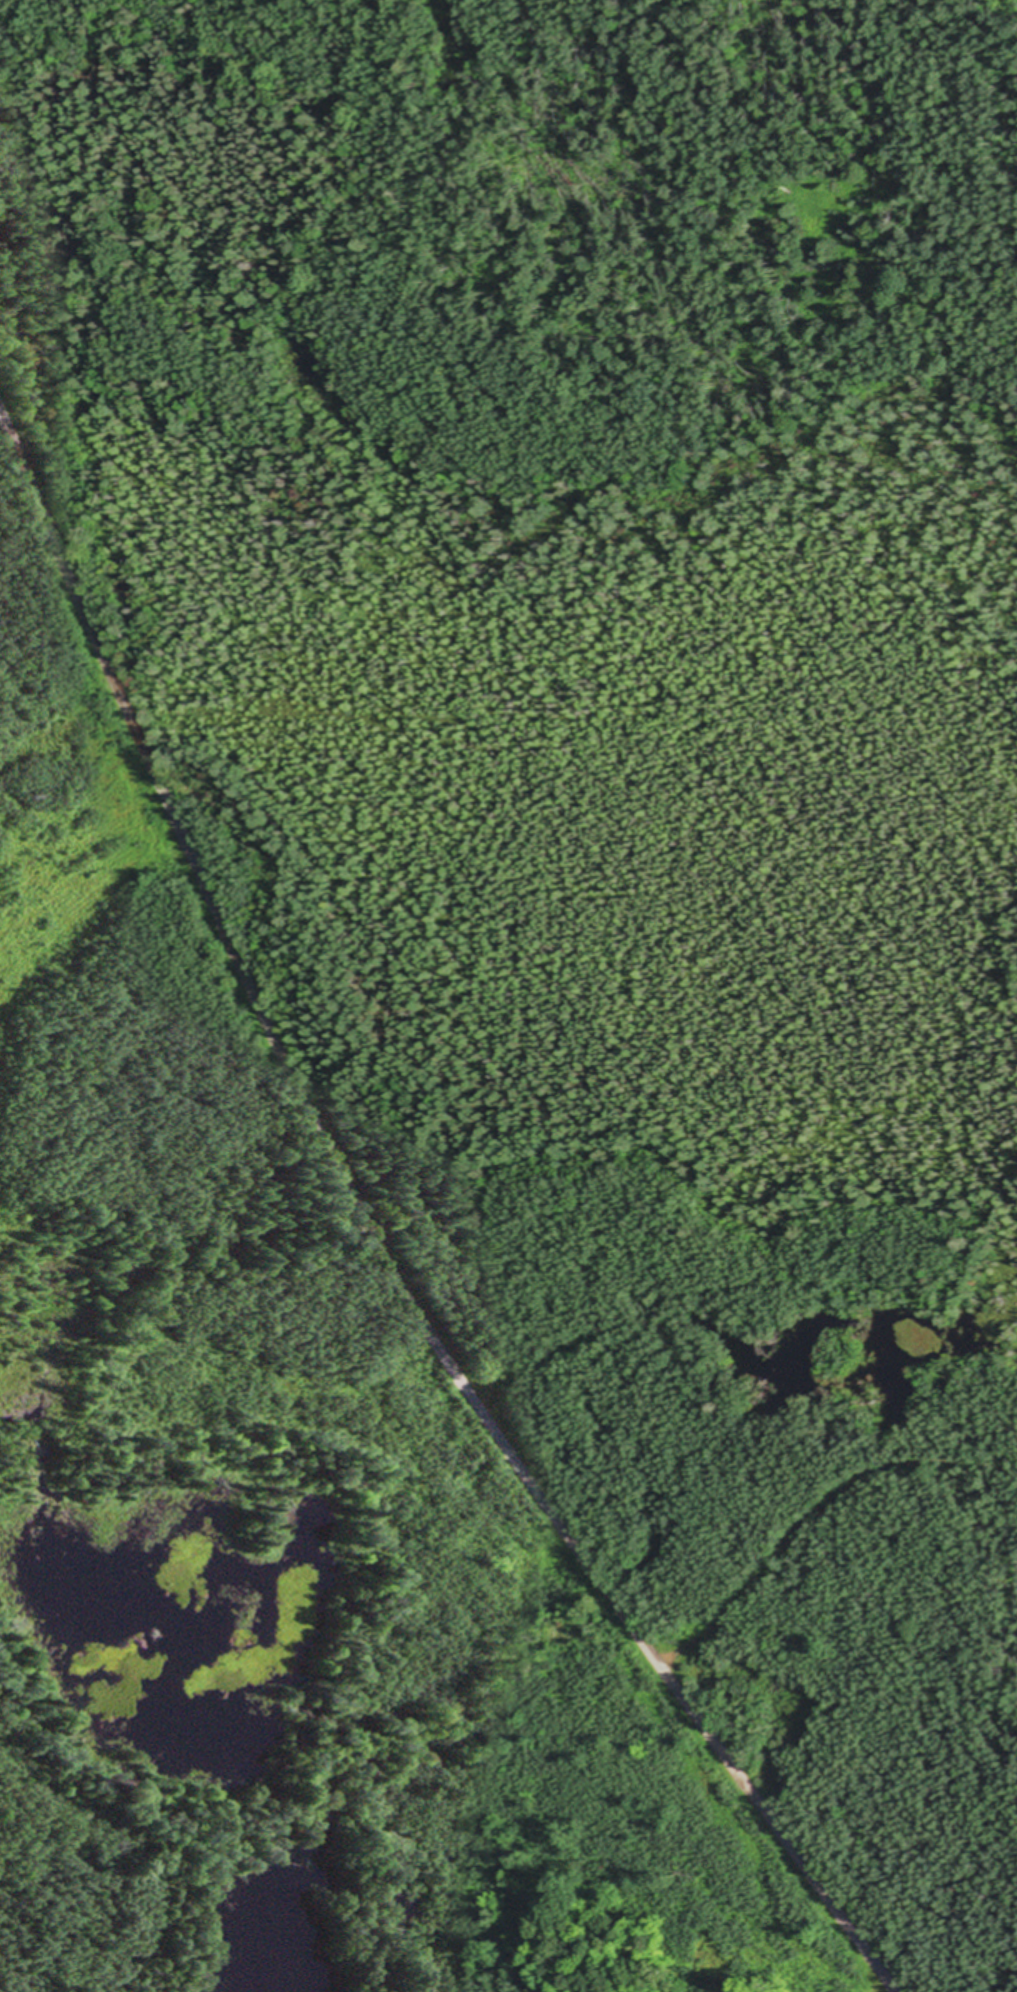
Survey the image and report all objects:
road: (376, 1242)
road: (815, 1514)

